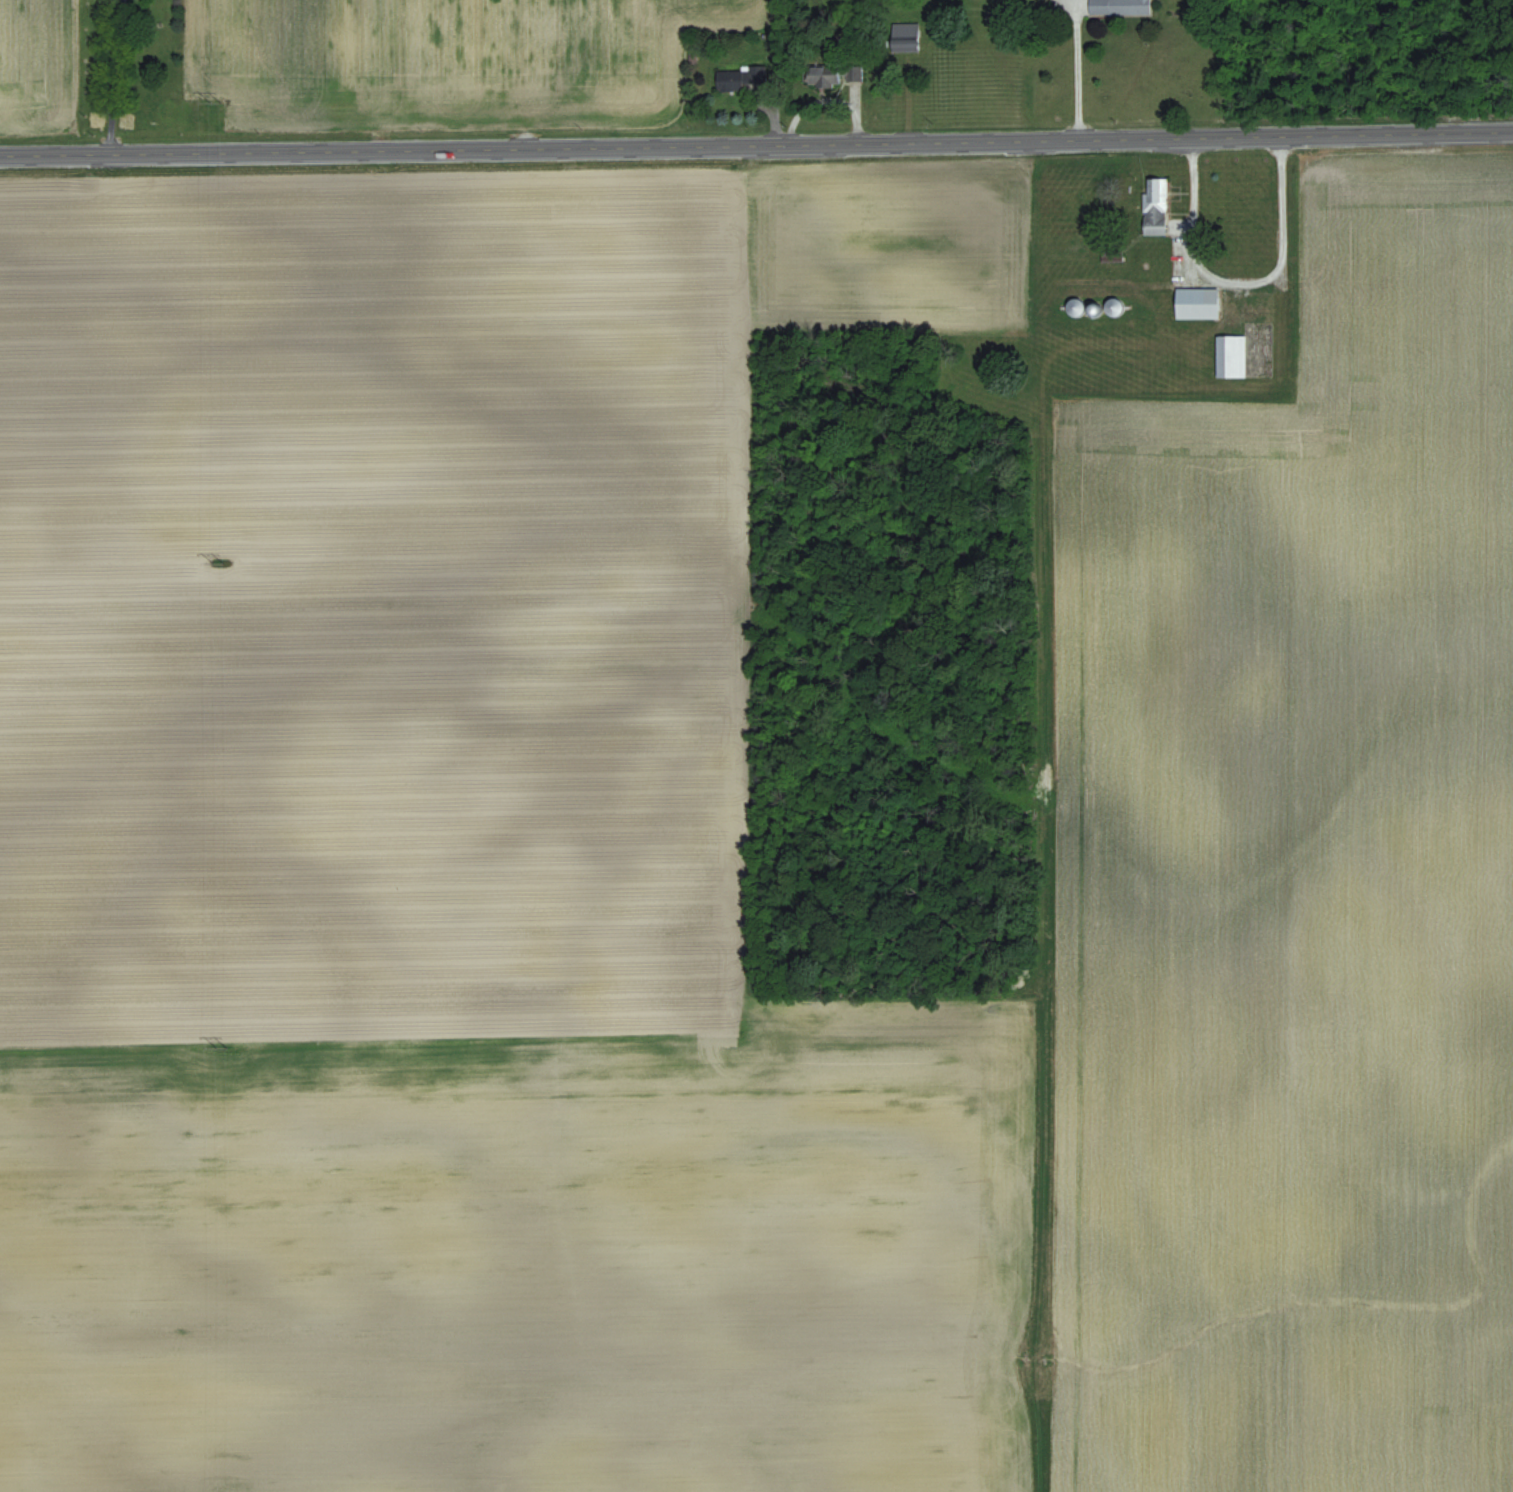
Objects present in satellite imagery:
building: (1120, 7)
building: (905, 37)
building: (826, 74)
building: (756, 75)
road: (115, 76)
building: (731, 80)
road: (1077, 83)
road: (756, 143)
building: (1156, 205)
building: (1113, 255)
road: (1239, 287)
building: (1198, 303)
building: (1077, 306)
building: (1115, 306)
building: (1232, 355)

